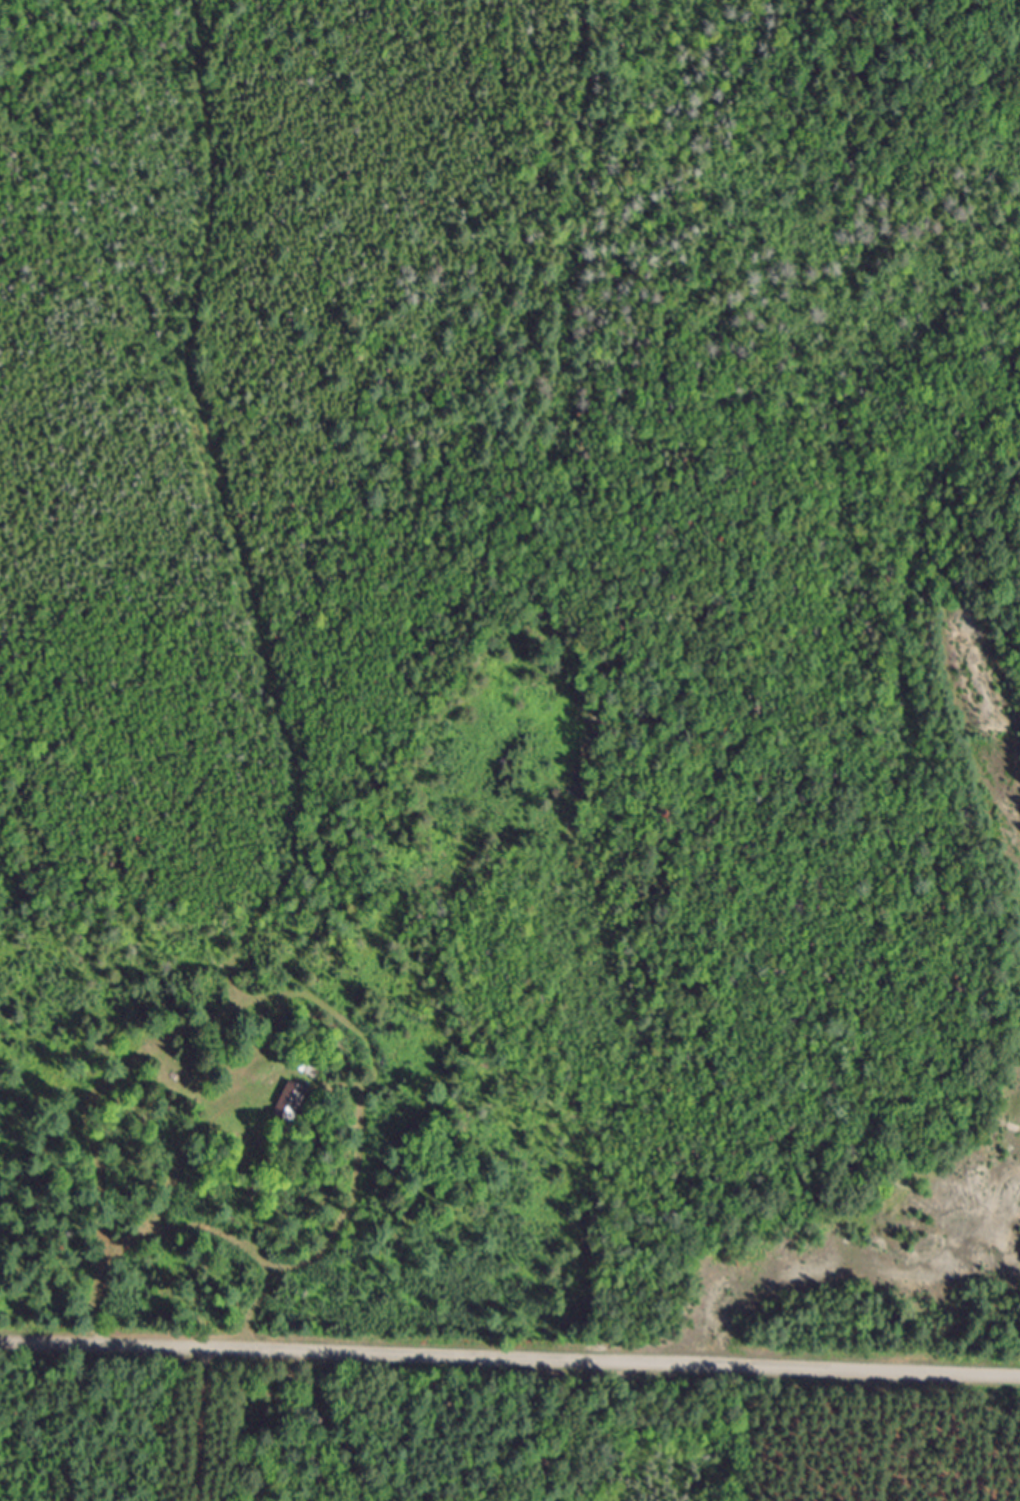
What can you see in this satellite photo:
road: (510, 1357)

